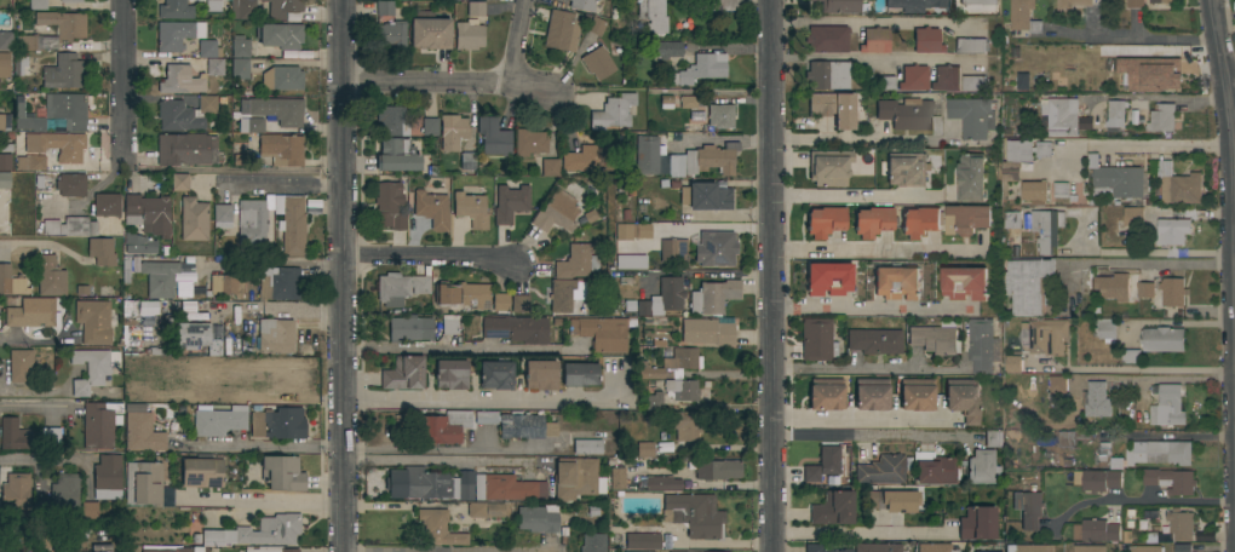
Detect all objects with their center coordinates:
building: (383, 0)
building: (453, 0)
building: (71, 1)
building: (1072, 4)
building: (38, 5)
building: (209, 5)
building: (582, 5)
building: (725, 5)
building: (914, 5)
building: (977, 5)
building: (1136, 5)
building: (838, 6)
building: (1234, 6)
building: (281, 8)
building: (476, 8)
building: (174, 10)
building: (246, 10)
building: (653, 16)
building: (1022, 16)
road: (860, 22)
building: (389, 27)
building: (596, 27)
building: (429, 30)
building: (562, 31)
building: (70, 34)
building: (177, 34)
building: (280, 35)
building: (469, 35)
road: (1149, 35)
building: (826, 39)
building: (874, 40)
building: (6, 41)
road: (517, 41)
building: (926, 41)
building: (971, 45)
building: (240, 47)
building: (208, 48)
building: (667, 50)
building: (287, 54)
building: (301, 54)
road: (873, 59)
building: (597, 63)
building: (5, 65)
building: (214, 67)
building: (239, 68)
building: (701, 69)
building: (53, 71)
building: (827, 75)
building: (1151, 75)
building: (282, 79)
building: (913, 79)
building: (946, 79)
road: (125, 80)
building: (179, 80)
road: (452, 80)
building: (1022, 82)
building: (886, 84)
building: (973, 84)
road: (1227, 86)
road: (1161, 99)
building: (689, 103)
building: (834, 108)
building: (67, 109)
building: (276, 111)
building: (613, 113)
building: (1115, 113)
building: (184, 114)
building: (907, 114)
building: (719, 116)
building: (972, 116)
building: (25, 117)
building: (1059, 117)
building: (1161, 119)
building: (391, 121)
building: (5, 122)
building: (1084, 123)
building: (253, 126)
building: (453, 126)
building: (430, 127)
building: (493, 137)
road: (720, 139)
road: (851, 140)
building: (529, 142)
building: (571, 144)
road: (1147, 146)
building: (184, 149)
building: (281, 149)
building: (57, 150)
building: (1042, 150)
building: (397, 155)
building: (647, 155)
building: (590, 159)
building: (1015, 159)
building: (703, 160)
building: (466, 161)
building: (5, 162)
building: (828, 167)
building: (550, 168)
building: (906, 169)
building: (970, 177)
building: (1115, 179)
building: (8, 180)
building: (38, 183)
building: (179, 183)
road: (280, 183)
building: (70, 185)
building: (1178, 185)
building: (1034, 190)
building: (1061, 190)
building: (705, 196)
road: (854, 196)
building: (510, 203)
building: (107, 205)
building: (389, 207)
building: (432, 209)
building: (470, 209)
building: (556, 212)
building: (147, 214)
building: (1133, 215)
building: (220, 217)
building: (966, 219)
building: (193, 220)
building: (251, 220)
building: (1011, 220)
building: (825, 222)
building: (872, 222)
building: (920, 222)
building: (291, 224)
building: (70, 228)
building: (1046, 229)
building: (622, 231)
building: (643, 231)
building: (1171, 231)
road: (31, 243)
building: (138, 245)
building: (714, 248)
building: (672, 251)
building: (100, 252)
road: (878, 253)
road: (430, 257)
building: (576, 261)
building: (630, 263)
road: (1147, 263)
road: (270, 264)
building: (126, 270)
road: (344, 275)
building: (50, 276)
road: (770, 276)
building: (828, 278)
building: (163, 281)
building: (11, 282)
building: (897, 282)
building: (280, 283)
building: (964, 283)
building: (225, 284)
building: (1027, 284)
building: (1113, 287)
building: (400, 288)
building: (80, 291)
building: (1145, 291)
building: (1172, 292)
building: (569, 293)
building: (466, 297)
building: (713, 297)
building: (664, 298)
building: (500, 303)
building: (519, 304)
building: (144, 309)
road: (276, 309)
road: (863, 310)
building: (33, 314)
building: (93, 322)
building: (449, 326)
building: (1104, 328)
building: (406, 329)
building: (516, 329)
building: (707, 332)
building: (602, 333)
building: (132, 337)
building: (275, 337)
building: (1047, 337)
building: (197, 339)
building: (817, 339)
building: (936, 339)
building: (1162, 339)
building: (878, 341)
road: (34, 344)
building: (981, 345)
road: (461, 349)
building: (1130, 356)
building: (19, 364)
building: (671, 364)
building: (1012, 364)
building: (92, 368)
road: (897, 370)
building: (403, 373)
building: (450, 374)
building: (579, 374)
building: (278, 375)
building: (495, 375)
building: (540, 375)
road: (1154, 376)
building: (1058, 385)
building: (682, 390)
road: (29, 393)
building: (826, 395)
building: (871, 395)
building: (917, 395)
building: (242, 396)
road: (481, 399)
building: (963, 399)
building: (654, 401)
building: (1097, 401)
building: (1167, 406)
building: (218, 420)
building: (99, 424)
building: (277, 424)
building: (517, 425)
building: (683, 425)
building: (443, 427)
building: (142, 433)
building: (13, 435)
building: (51, 435)
road: (873, 437)
building: (1072, 437)
building: (993, 439)
building: (586, 447)
road: (265, 449)
building: (643, 449)
road: (433, 452)
building: (1145, 454)
road: (45, 462)
building: (823, 465)
building: (982, 467)
building: (934, 468)
building: (717, 470)
building: (883, 470)
building: (202, 472)
building: (282, 473)
building: (107, 477)
building: (576, 478)
building: (617, 478)
building: (1099, 481)
building: (1171, 481)
building: (143, 483)
building: (661, 483)
building: (429, 484)
building: (506, 488)
building: (15, 493)
building: (63, 494)
building: (166, 498)
road: (260, 501)
building: (892, 501)
road: (1139, 502)
building: (833, 508)
building: (1028, 508)
building: (40, 510)
building: (484, 510)
building: (88, 511)
building: (694, 514)
building: (536, 521)
building: (977, 524)
building: (1181, 524)
building: (438, 528)
building: (1096, 530)
building: (258, 531)
road: (861, 531)
building: (50, 539)
building: (642, 541)
building: (592, 544)
building: (877, 547)
building: (934, 547)
building: (1183, 547)
building: (99, 548)
building: (168, 548)
building: (818, 548)
building: (1029, 548)
building: (1088, 548)
building: (1144, 548)
building: (268, 550)
building: (643, 551)
building: (688, 551)

